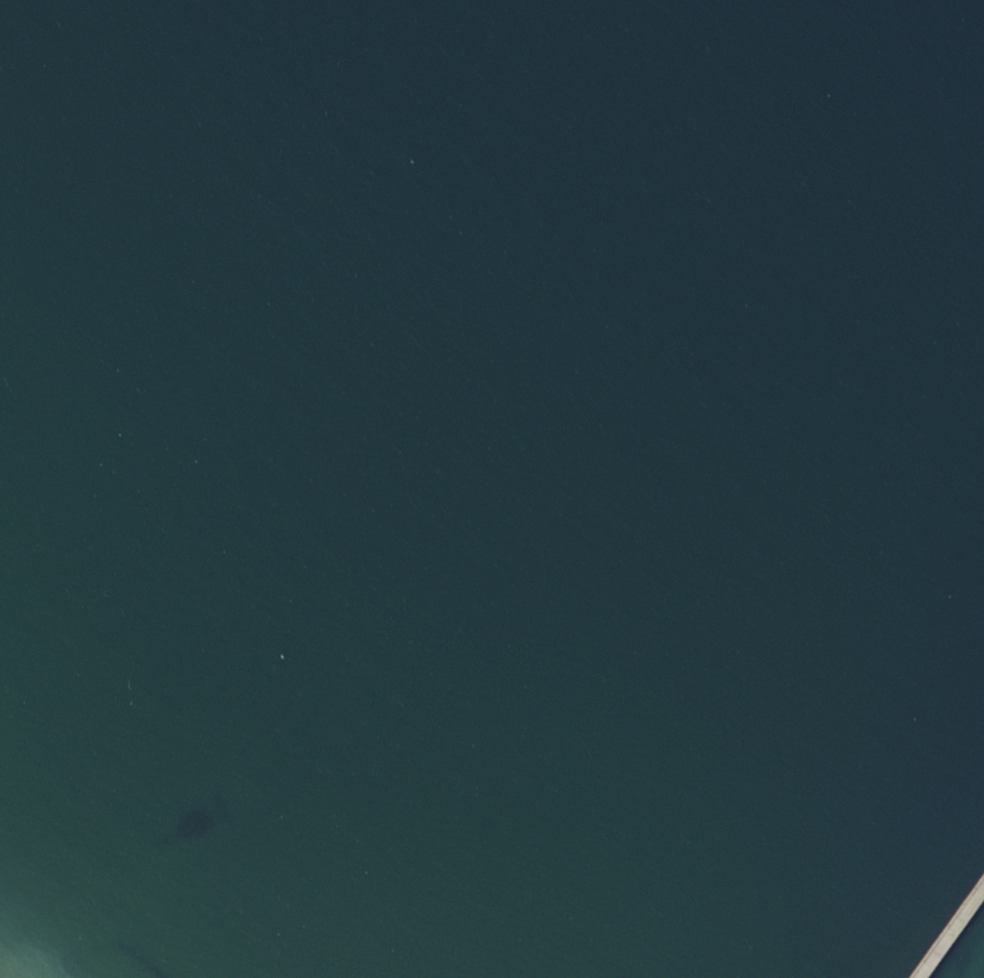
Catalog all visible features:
pier: (945, 925)

